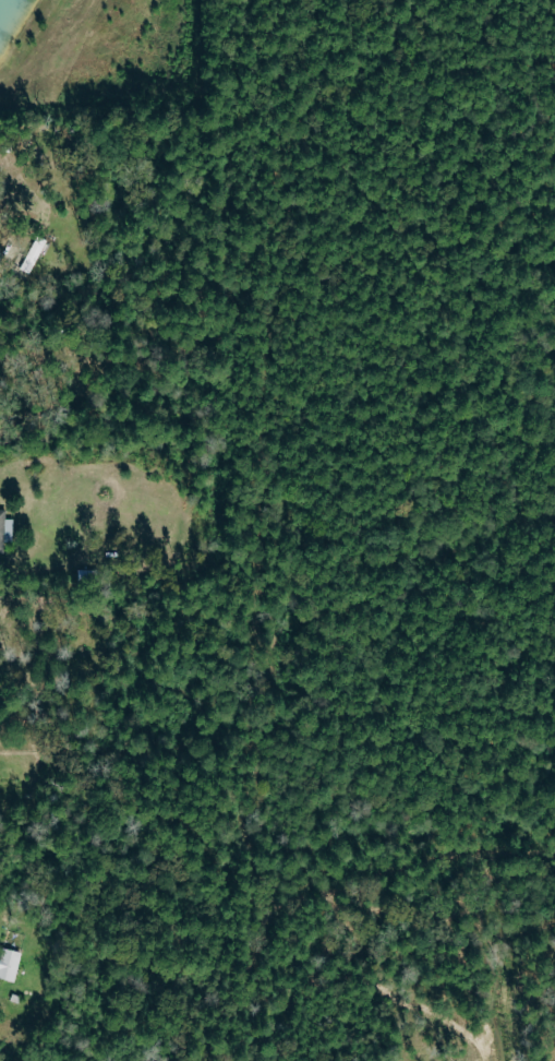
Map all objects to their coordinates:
building: (10, 964)

